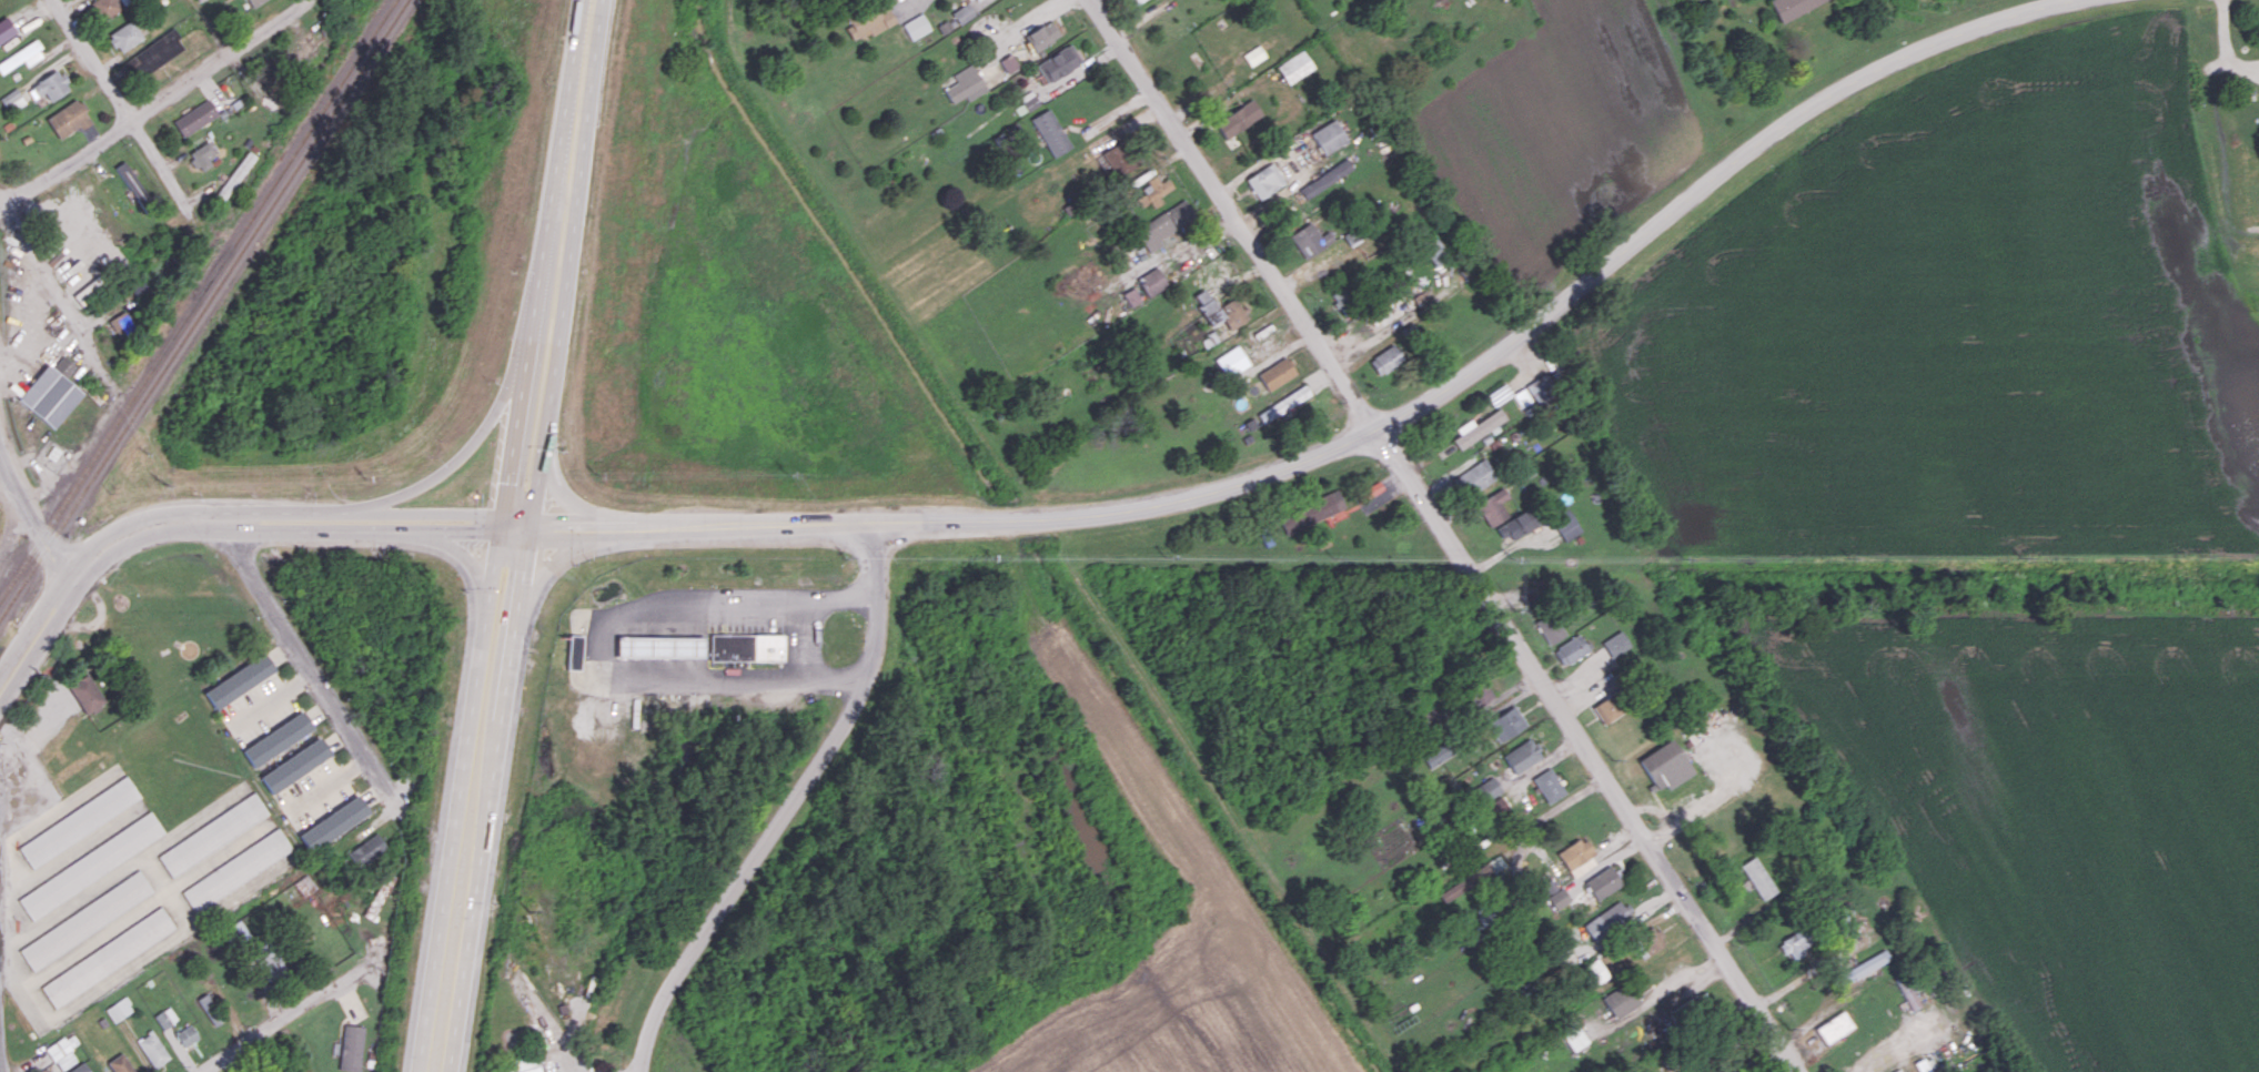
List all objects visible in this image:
building: (897, 0)
building: (1136, 1)
building: (253, 2)
building: (1793, 7)
building: (103, 8)
building: (962, 13)
building: (869, 20)
building: (915, 26)
building: (6, 29)
building: (1041, 34)
building: (124, 36)
road: (2222, 49)
building: (152, 54)
building: (1254, 54)
building: (21, 57)
building: (1008, 62)
building: (1058, 62)
building: (1294, 65)
building: (965, 84)
building: (49, 85)
building: (11, 99)
building: (1026, 102)
road: (158, 104)
building: (194, 117)
building: (1238, 118)
building: (67, 119)
road: (132, 119)
building: (1050, 132)
building: (1329, 136)
building: (202, 155)
road: (556, 166)
road: (577, 168)
building: (235, 175)
building: (1325, 178)
building: (1264, 180)
building: (131, 182)
building: (1154, 190)
building: (1163, 224)
building: (1354, 233)
building: (1310, 240)
building: (1433, 250)
road: (43, 274)
building: (1151, 281)
building: (141, 285)
building: (1131, 296)
railway: (198, 300)
building: (1347, 303)
railway: (202, 309)
building: (1219, 310)
building: (121, 324)
building: (1385, 360)
building: (1231, 361)
building: (63, 365)
building: (1275, 373)
road: (546, 388)
building: (49, 395)
road: (1404, 414)
road: (518, 427)
building: (1476, 428)
road: (458, 452)
building: (1522, 472)
building: (1473, 477)
road: (534, 483)
road: (556, 493)
building: (1493, 507)
road: (274, 512)
road: (417, 512)
building: (1311, 512)
road: (31, 520)
road: (515, 523)
road: (564, 524)
building: (1565, 524)
road: (266, 530)
road: (411, 530)
road: (1449, 533)
road: (461, 552)
road: (553, 555)
road: (82, 565)
building: (1550, 627)
road: (599, 639)
building: (1616, 643)
building: (655, 646)
gas station: (655, 646)
building: (728, 646)
building: (766, 646)
water tower: (186, 648)
building: (1571, 649)
building: (572, 653)
road: (306, 663)
building: (238, 680)
building: (90, 694)
building: (1607, 709)
building: (1506, 722)
building: (273, 739)
building: (1523, 755)
building: (293, 765)
building: (1664, 766)
road: (32, 773)
building: (1549, 785)
building: (1487, 789)
road: (457, 797)
road: (488, 798)
road: (1717, 799)
road: (788, 806)
building: (1494, 807)
road: (1655, 809)
building: (79, 821)
building: (331, 822)
building: (213, 833)
building: (366, 849)
building: (1575, 852)
building: (90, 866)
building: (236, 869)
building: (1758, 878)
building: (1603, 882)
building: (1559, 898)
building: (1491, 914)
road: (1634, 919)
building: (85, 920)
building: (1606, 920)
building: (1648, 941)
building: (1793, 945)
building: (108, 957)
building: (1593, 972)
road: (1805, 974)
building: (1621, 1000)
building: (119, 1009)
building: (211, 1009)
building: (1691, 1012)
road: (297, 1013)
building: (165, 1018)
building: (1835, 1027)
building: (1572, 1033)
building: (186, 1034)
building: (351, 1046)
road: (1889, 1046)
building: (152, 1049)
building: (60, 1053)
road: (2, 1061)
road: (1772, 1061)
building: (120, 1063)
building: (523, 1064)
building: (1926, 1065)
building: (80, 1068)
building: (1898, 1070)

